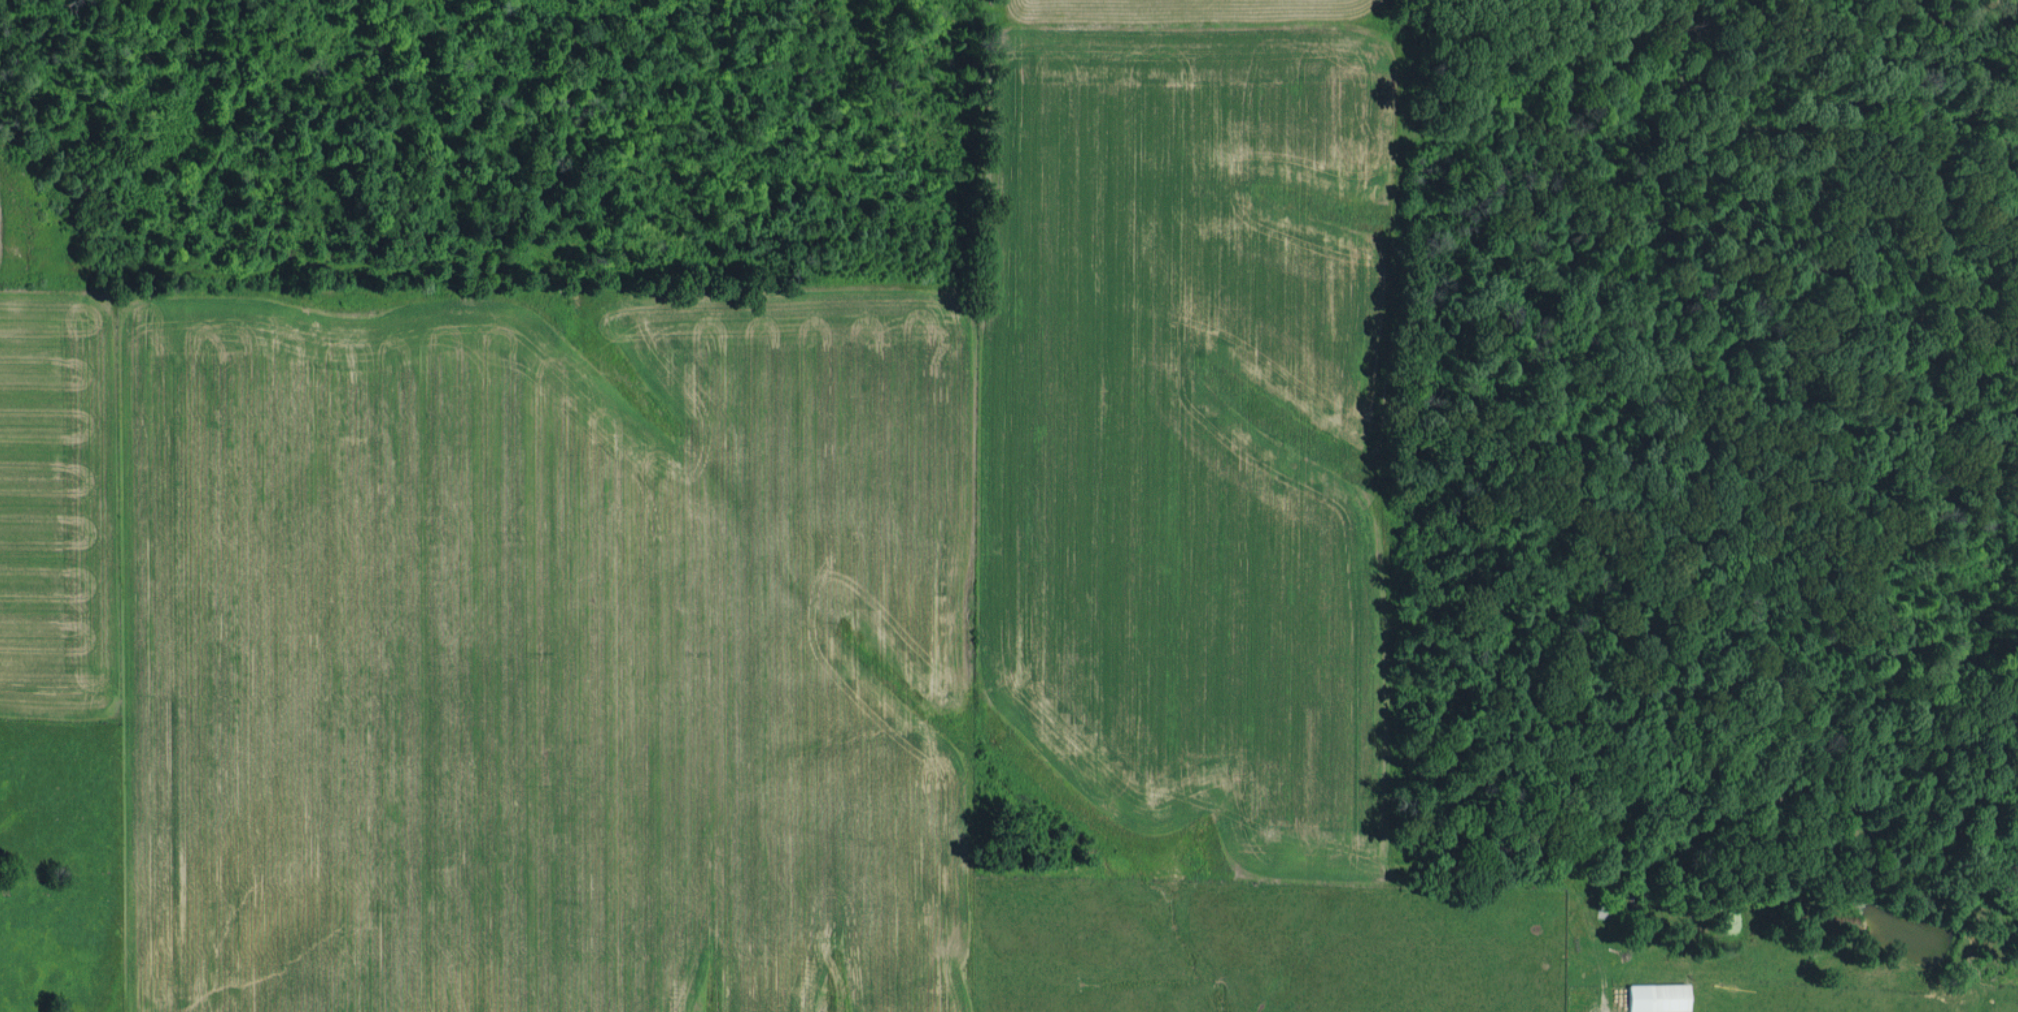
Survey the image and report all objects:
building: (1657, 996)

